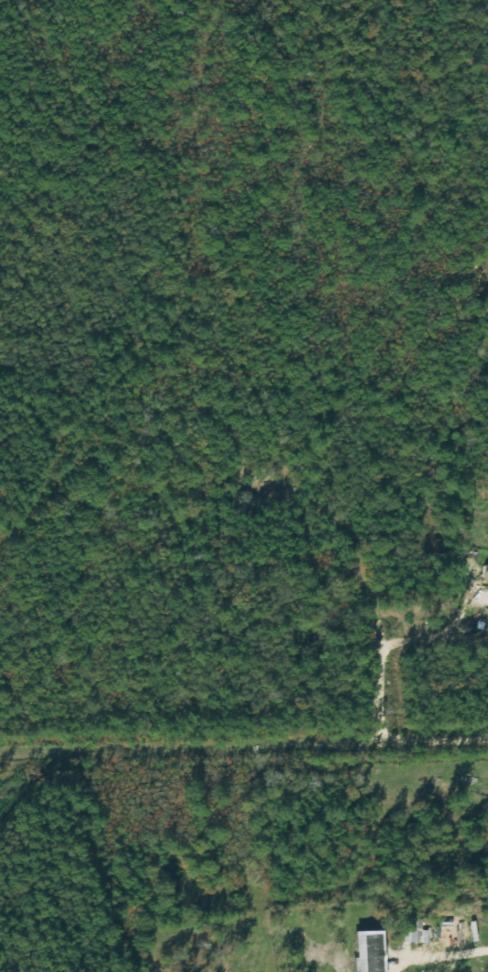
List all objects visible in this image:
building: (484, 571)
building: (487, 585)
road: (390, 645)
road: (243, 742)
building: (363, 951)
road: (438, 957)

